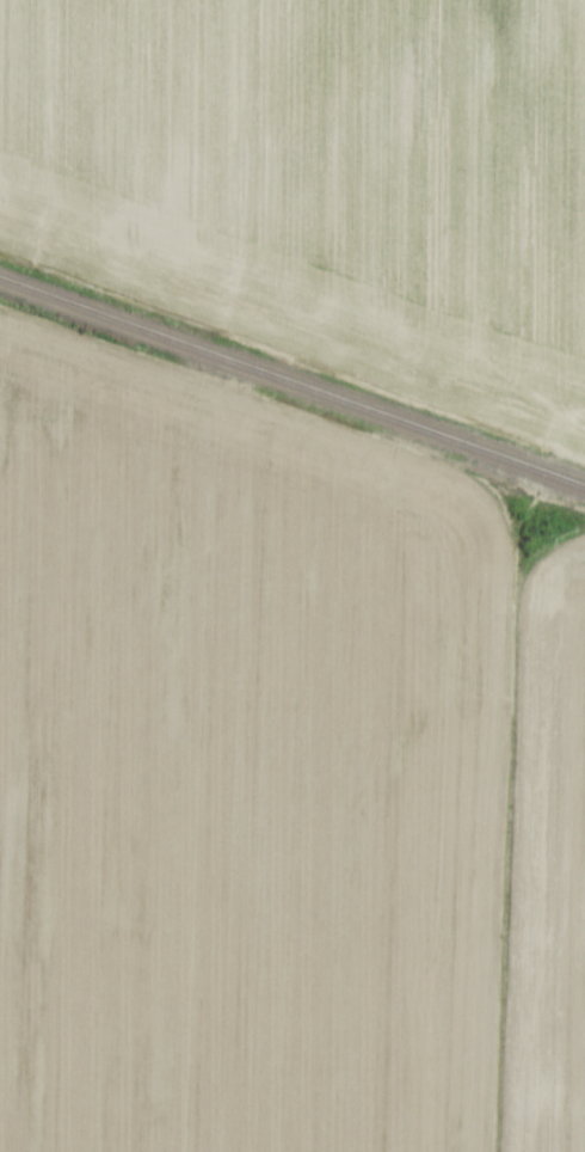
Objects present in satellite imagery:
railway: (292, 380)

